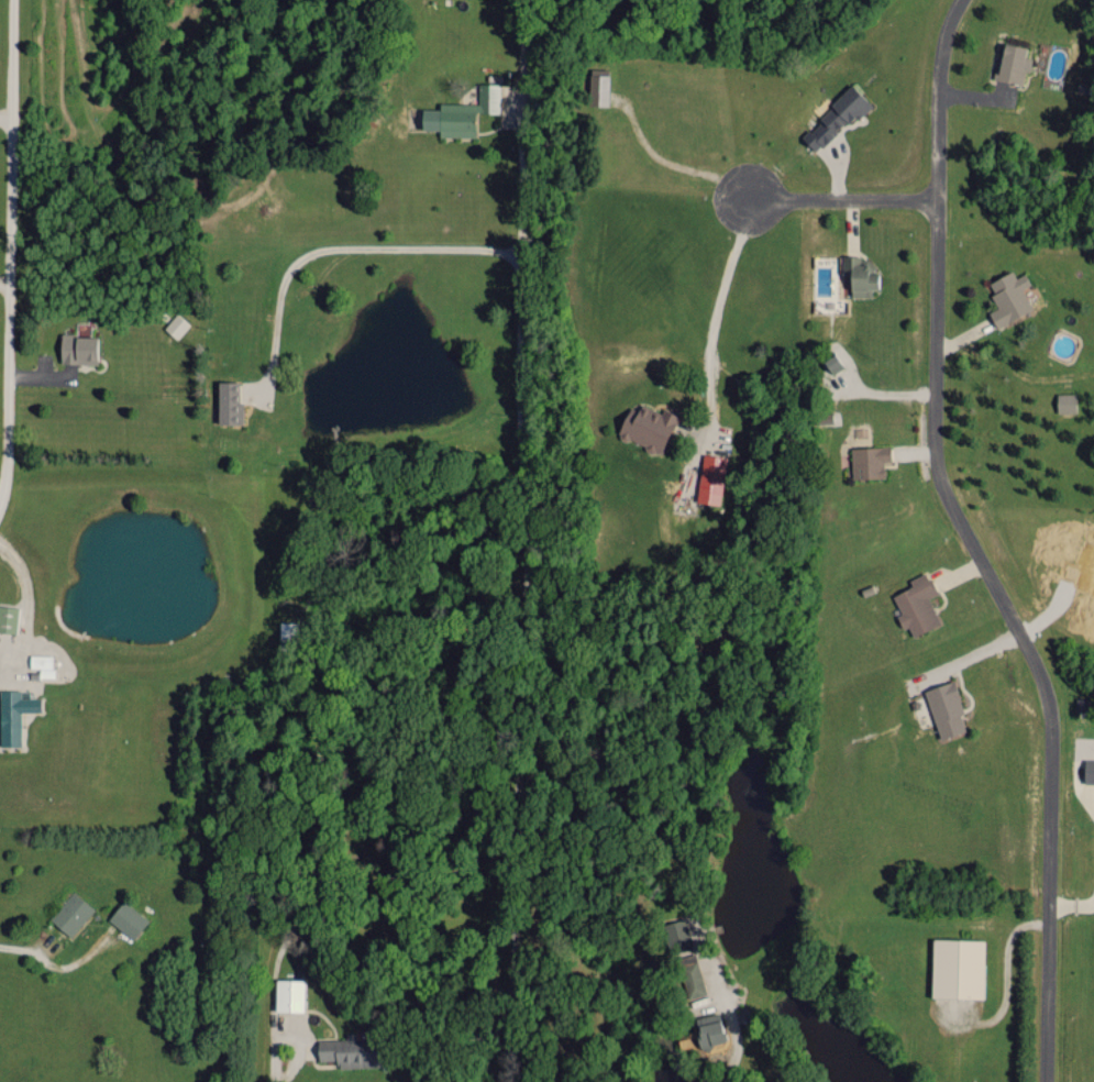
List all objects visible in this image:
building: (1012, 63)
building: (598, 86)
building: (460, 112)
road: (5, 114)
building: (835, 117)
road: (832, 199)
road: (333, 249)
road: (9, 252)
building: (859, 274)
building: (1008, 296)
road: (714, 317)
building: (176, 325)
building: (77, 347)
building: (832, 362)
building: (229, 401)
building: (1065, 401)
building: (647, 427)
building: (868, 460)
building: (710, 477)
road: (972, 543)
road: (523, 589)
building: (916, 605)
building: (8, 618)
building: (42, 663)
building: (944, 707)
building: (13, 714)
building: (1089, 770)
building: (71, 913)
building: (126, 918)
building: (678, 935)
road: (21, 947)
building: (957, 968)
building: (692, 974)
building: (289, 994)
building: (709, 1028)
building: (350, 1050)
road: (276, 1062)
road: (723, 1079)

